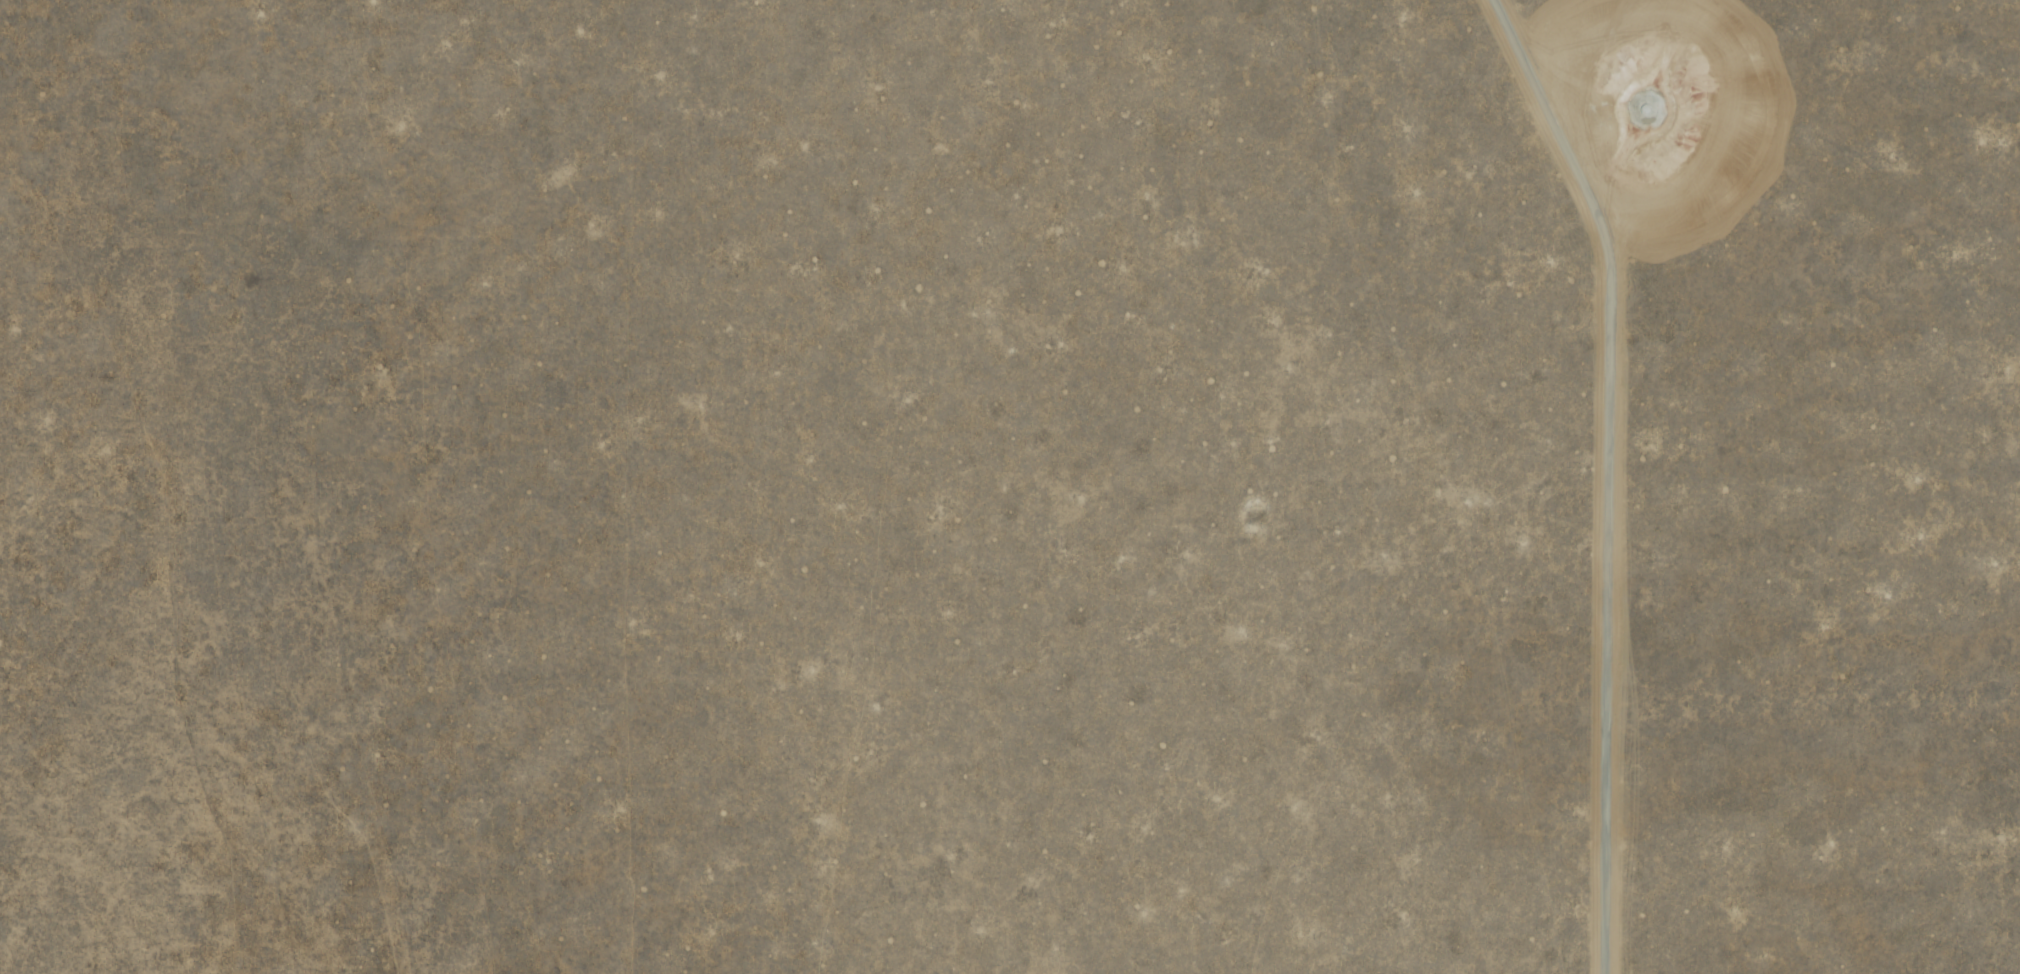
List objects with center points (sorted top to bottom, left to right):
wind turbine: (1645, 93)

